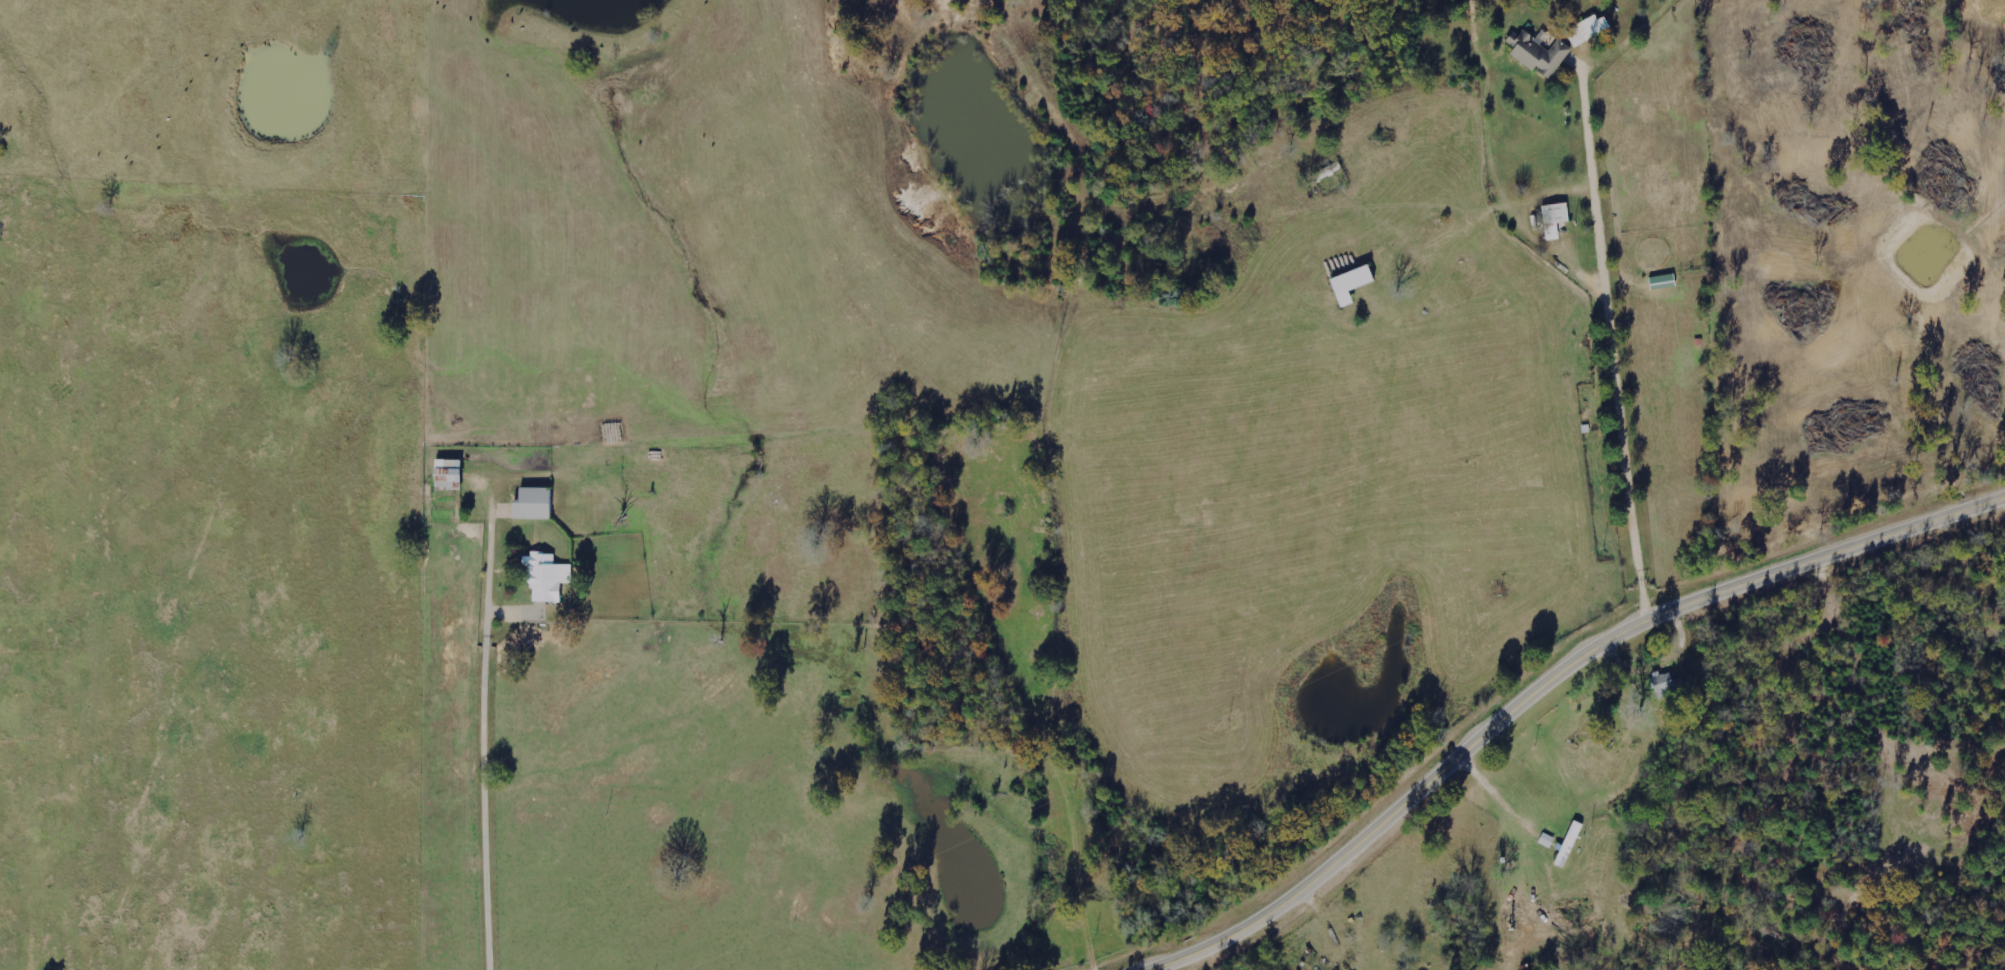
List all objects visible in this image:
building: (1539, 53)
building: (1559, 219)
building: (1358, 283)
building: (454, 474)
building: (538, 503)
building: (550, 576)
park: (970, 579)
road: (486, 585)
road: (1550, 682)
road: (481, 806)
building: (1573, 843)

